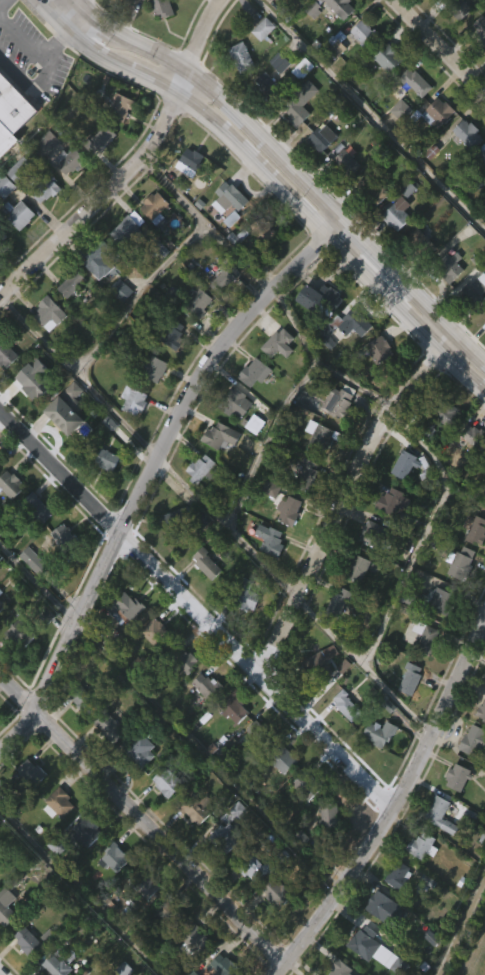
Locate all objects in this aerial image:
road: (1, 1)
building: (404, 1)
road: (78, 6)
building: (313, 7)
building: (339, 7)
building: (162, 8)
building: (458, 9)
building: (183, 11)
building: (304, 14)
road: (54, 15)
building: (423, 15)
road: (73, 21)
building: (141, 27)
building: (480, 30)
building: (366, 35)
building: (313, 38)
building: (157, 43)
building: (334, 45)
road: (440, 45)
road: (197, 46)
building: (455, 46)
road: (34, 48)
road: (95, 50)
building: (245, 56)
building: (388, 58)
building: (280, 61)
building: (259, 65)
building: (478, 66)
building: (359, 69)
road: (151, 81)
building: (332, 81)
building: (416, 82)
building: (236, 91)
building: (383, 94)
building: (275, 98)
building: (300, 103)
building: (120, 106)
road: (373, 115)
building: (427, 115)
building: (261, 118)
building: (411, 118)
building: (465, 133)
building: (318, 137)
building: (8, 138)
building: (102, 138)
building: (296, 139)
building: (47, 143)
building: (116, 143)
building: (396, 146)
building: (433, 149)
building: (482, 154)
building: (73, 160)
building: (198, 162)
building: (346, 162)
road: (287, 167)
building: (21, 168)
building: (463, 169)
building: (317, 174)
building: (95, 175)
building: (6, 184)
building: (45, 187)
building: (372, 191)
building: (480, 194)
building: (187, 195)
building: (65, 197)
building: (231, 198)
building: (341, 199)
road: (98, 203)
building: (159, 208)
building: (394, 208)
building: (18, 213)
road: (315, 220)
building: (4, 222)
building: (404, 224)
building: (41, 226)
building: (365, 226)
building: (132, 228)
building: (267, 232)
building: (224, 233)
building: (2, 237)
building: (419, 243)
building: (151, 244)
building: (393, 249)
building: (227, 255)
building: (100, 259)
building: (123, 263)
building: (447, 266)
building: (261, 271)
building: (1, 272)
building: (413, 273)
building: (229, 277)
building: (73, 283)
building: (472, 293)
building: (317, 297)
building: (95, 298)
road: (132, 299)
building: (198, 303)
building: (444, 303)
building: (53, 313)
building: (219, 314)
building: (66, 319)
building: (117, 326)
building: (342, 327)
building: (471, 328)
building: (173, 334)
building: (316, 335)
building: (194, 339)
building: (279, 343)
road: (451, 348)
building: (45, 350)
building: (374, 350)
building: (6, 354)
building: (483, 355)
building: (341, 362)
building: (150, 364)
road: (309, 366)
building: (169, 369)
building: (256, 372)
road: (465, 373)
building: (274, 379)
road: (354, 383)
building: (33, 385)
building: (375, 386)
building: (5, 391)
building: (137, 401)
building: (339, 401)
building: (239, 403)
building: (148, 404)
building: (251, 408)
building: (67, 409)
building: (447, 413)
building: (27, 420)
building: (130, 436)
building: (225, 436)
building: (472, 436)
building: (323, 438)
building: (63, 444)
building: (441, 450)
building: (1, 459)
building: (108, 459)
building: (250, 460)
building: (403, 463)
building: (203, 469)
building: (469, 470)
building: (316, 472)
road: (152, 473)
building: (216, 473)
building: (305, 475)
building: (13, 484)
road: (183, 487)
building: (102, 495)
building: (404, 499)
building: (390, 500)
building: (197, 504)
road: (341, 506)
building: (35, 508)
building: (287, 511)
building: (304, 511)
building: (7, 520)
building: (177, 523)
building: (472, 532)
road: (423, 534)
building: (384, 535)
building: (65, 538)
building: (271, 540)
building: (33, 543)
building: (285, 545)
building: (34, 560)
building: (207, 563)
building: (457, 563)
building: (474, 565)
building: (356, 568)
building: (368, 569)
building: (58, 571)
building: (267, 576)
building: (1, 591)
building: (244, 594)
building: (29, 596)
building: (202, 599)
building: (429, 599)
building: (456, 599)
building: (337, 603)
building: (353, 604)
building: (2, 605)
building: (130, 606)
road: (196, 610)
building: (156, 631)
building: (21, 632)
building: (335, 636)
building: (422, 636)
building: (437, 636)
building: (0, 643)
building: (121, 643)
building: (183, 659)
road: (364, 665)
building: (150, 667)
building: (315, 667)
building: (16, 669)
building: (421, 673)
building: (408, 678)
building: (211, 685)
building: (181, 696)
building: (84, 701)
building: (312, 702)
building: (345, 703)
building: (237, 706)
building: (481, 711)
building: (406, 714)
building: (484, 719)
building: (201, 721)
building: (113, 724)
building: (260, 733)
building: (378, 733)
building: (78, 735)
building: (342, 740)
building: (475, 742)
building: (230, 743)
building: (141, 754)
building: (286, 759)
building: (109, 760)
building: (249, 764)
building: (374, 768)
building: (469, 775)
building: (29, 777)
building: (458, 778)
building: (170, 781)
building: (308, 785)
building: (136, 786)
building: (280, 797)
building: (59, 803)
road: (394, 807)
building: (27, 808)
building: (201, 808)
building: (453, 812)
building: (326, 814)
building: (441, 815)
building: (162, 817)
road: (143, 819)
building: (301, 823)
building: (86, 832)
building: (224, 838)
building: (54, 839)
building: (189, 842)
building: (423, 846)
building: (436, 850)
building: (323, 851)
building: (115, 857)
building: (82, 867)
building: (222, 867)
building: (256, 869)
building: (400, 876)
building: (418, 881)
building: (143, 885)
road: (80, 892)
building: (109, 893)
building: (279, 894)
building: (250, 904)
building: (7, 905)
building: (384, 909)
building: (423, 916)
building: (143, 921)
building: (270, 928)
building: (4, 941)
building: (31, 942)
building: (195, 944)
building: (373, 950)
building: (59, 965)
building: (227, 966)
building: (342, 969)
building: (360, 969)
building: (20, 970)
building: (44, 970)
building: (189, 971)
building: (425, 971)

